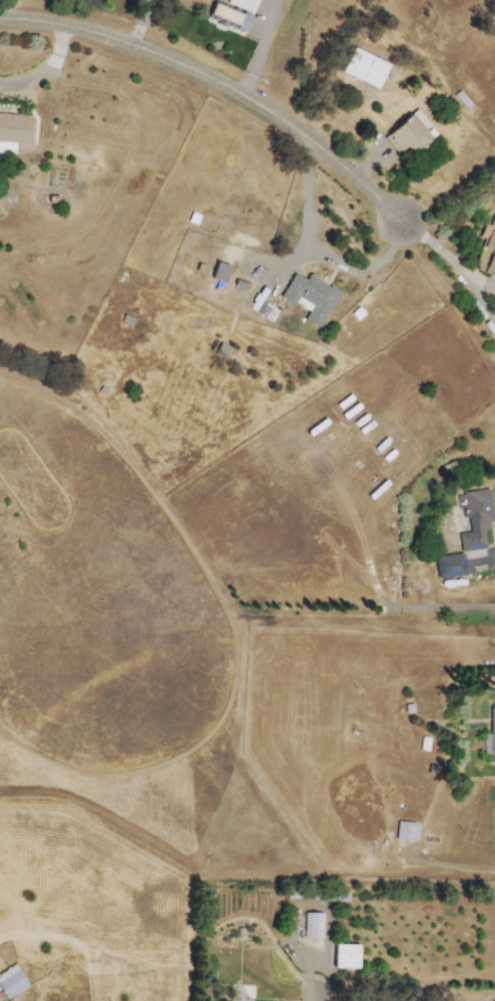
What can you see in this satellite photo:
building: (241, 3)
building: (227, 18)
road: (143, 28)
road: (258, 48)
building: (363, 67)
road: (39, 68)
road: (217, 85)
building: (14, 130)
building: (409, 133)
road: (435, 247)
building: (486, 248)
road: (315, 256)
building: (219, 271)
road: (482, 283)
building: (309, 296)
road: (480, 300)
building: (493, 304)
building: (474, 519)
building: (448, 565)
building: (491, 734)
building: (404, 830)
building: (311, 925)
building: (344, 955)
road: (309, 974)
building: (11, 980)

